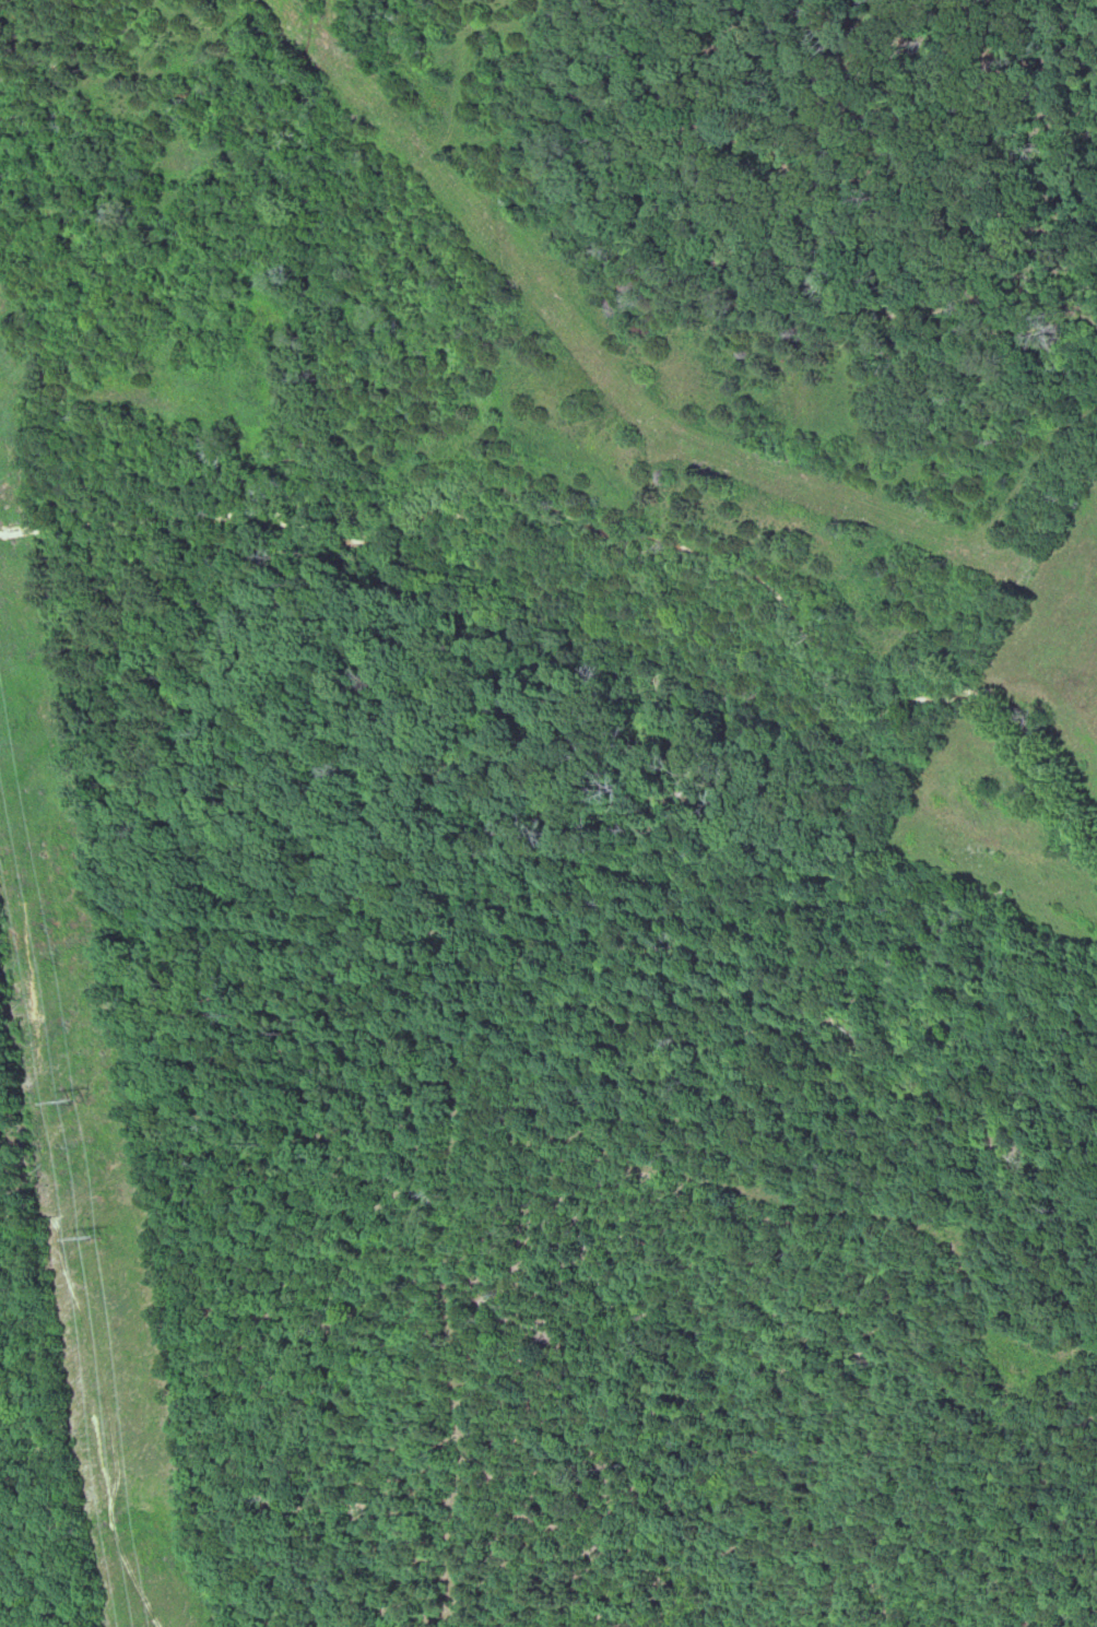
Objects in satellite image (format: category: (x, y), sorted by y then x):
road: (798, 247)
power tower: (79, 1100)
power tower: (99, 1237)

